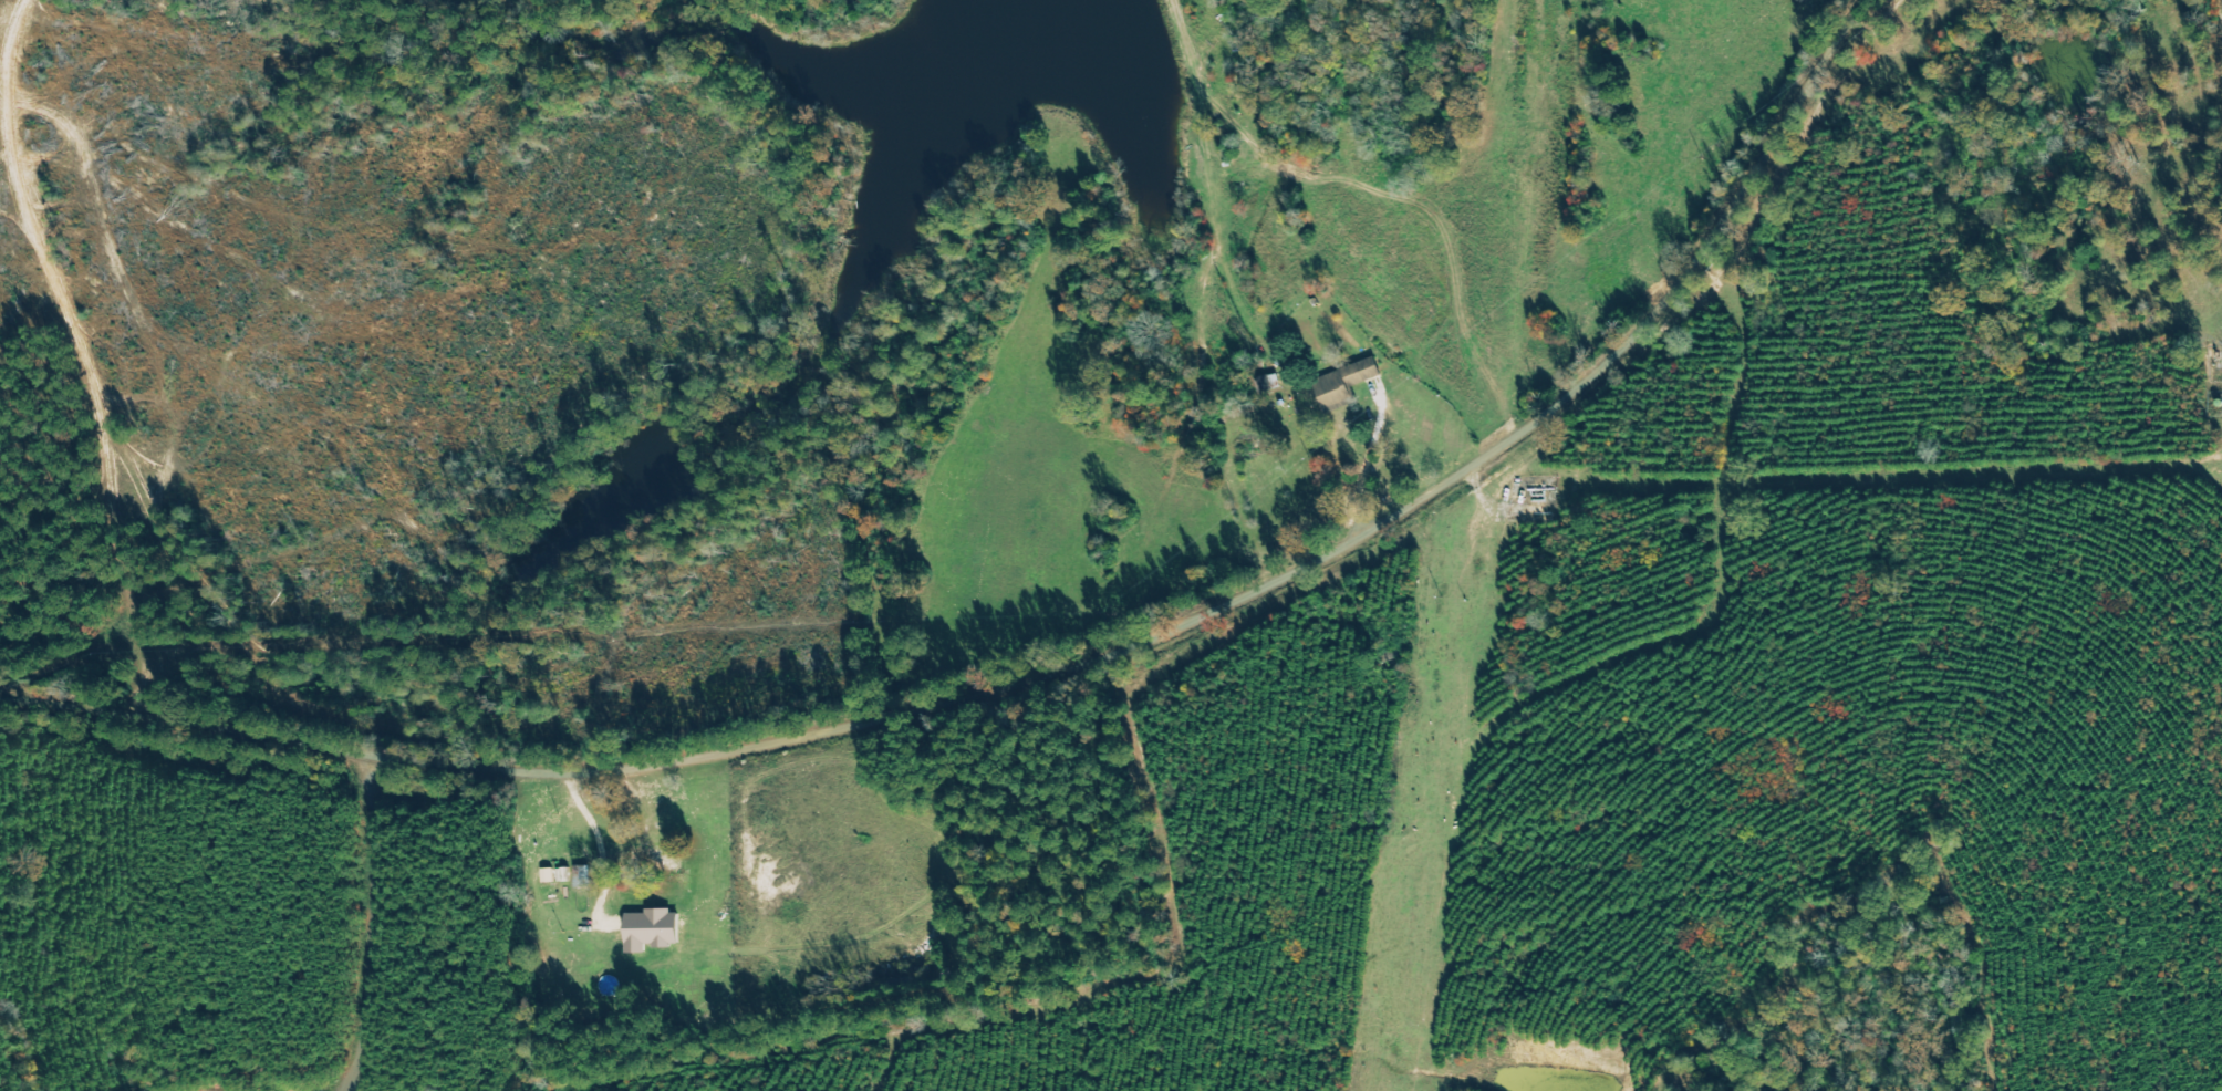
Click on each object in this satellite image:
building: (1344, 382)
road: (1369, 464)
road: (1058, 671)
building: (662, 858)
building: (547, 874)
building: (651, 929)

